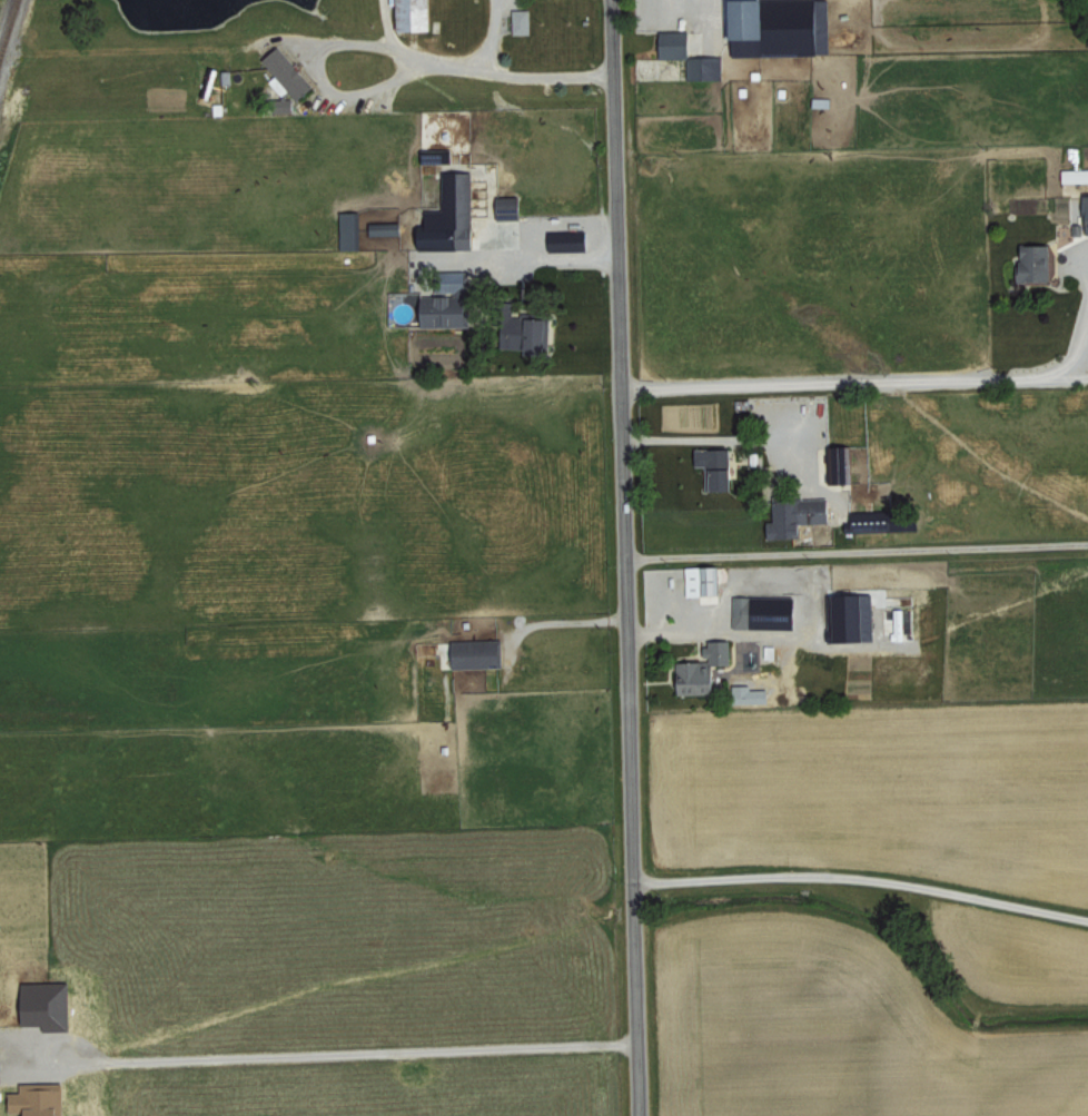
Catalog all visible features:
building: (417, 14)
building: (524, 21)
railway: (8, 26)
road: (378, 28)
road: (486, 39)
building: (691, 55)
road: (448, 71)
building: (290, 72)
building: (1075, 175)
building: (1086, 204)
building: (453, 215)
building: (388, 228)
building: (350, 229)
building: (572, 240)
building: (1037, 264)
road: (514, 268)
building: (451, 303)
building: (534, 333)
road: (855, 388)
road: (733, 437)
building: (839, 463)
building: (720, 466)
building: (799, 514)
building: (883, 520)
road: (858, 549)
road: (630, 557)
building: (704, 579)
building: (768, 611)
building: (853, 615)
building: (722, 650)
building: (479, 652)
building: (700, 676)
road: (864, 878)
building: (50, 1004)
road: (347, 1054)
building: (41, 1099)

